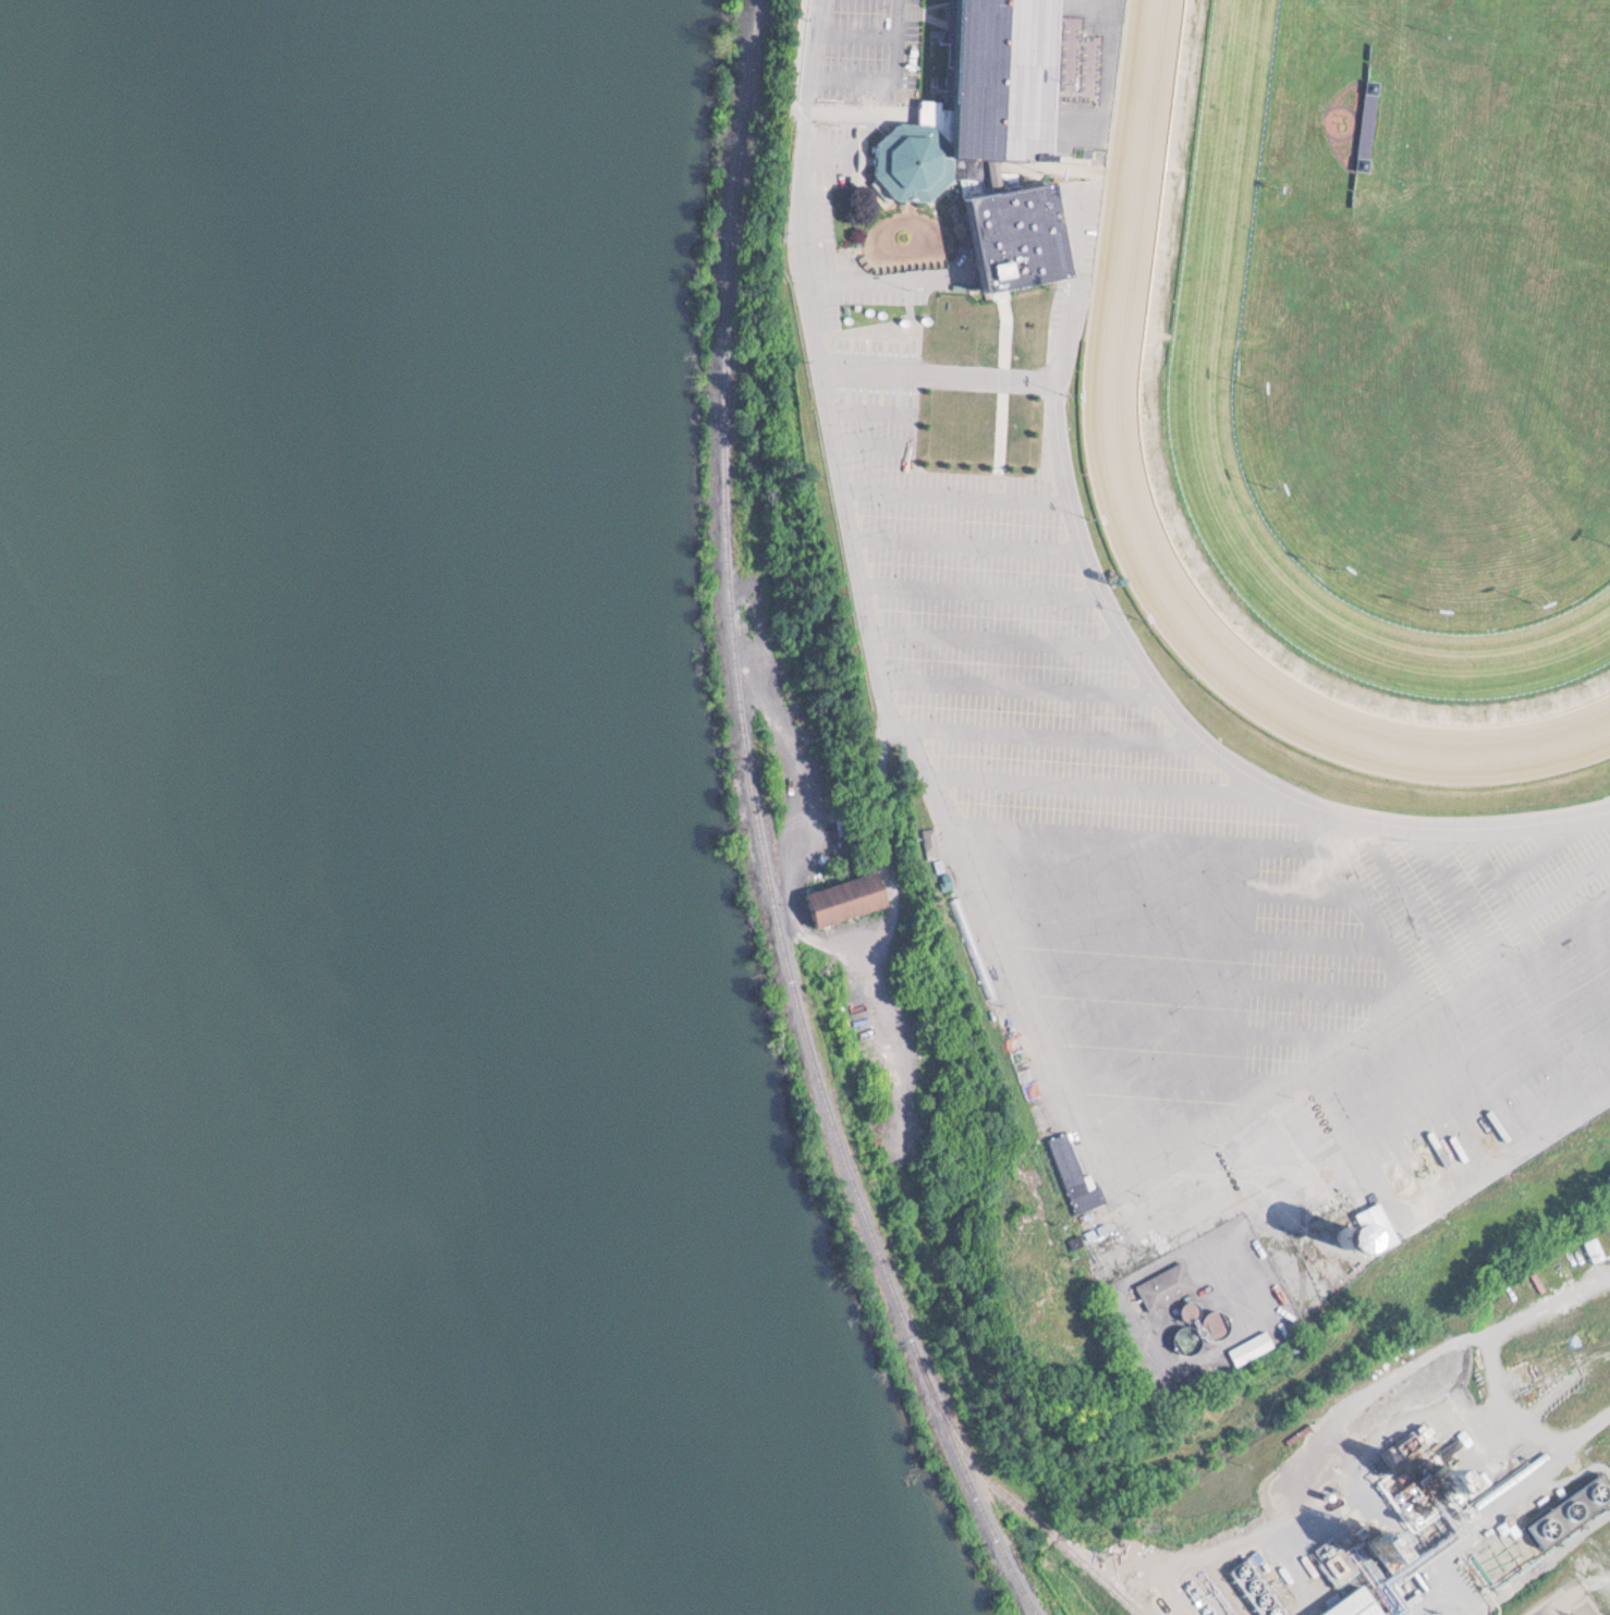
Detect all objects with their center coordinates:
building: (988, 137)
track: (1381, 355)
road: (783, 425)
road: (1211, 751)
river: (280, 812)
railway: (766, 830)
building: (843, 892)
building: (1075, 1174)
building: (1354, 1235)
building: (1167, 1286)
building: (1255, 1347)
road: (1330, 1427)
building: (1571, 1502)
railway: (1019, 1505)
building: (1259, 1583)
building: (1347, 1602)

